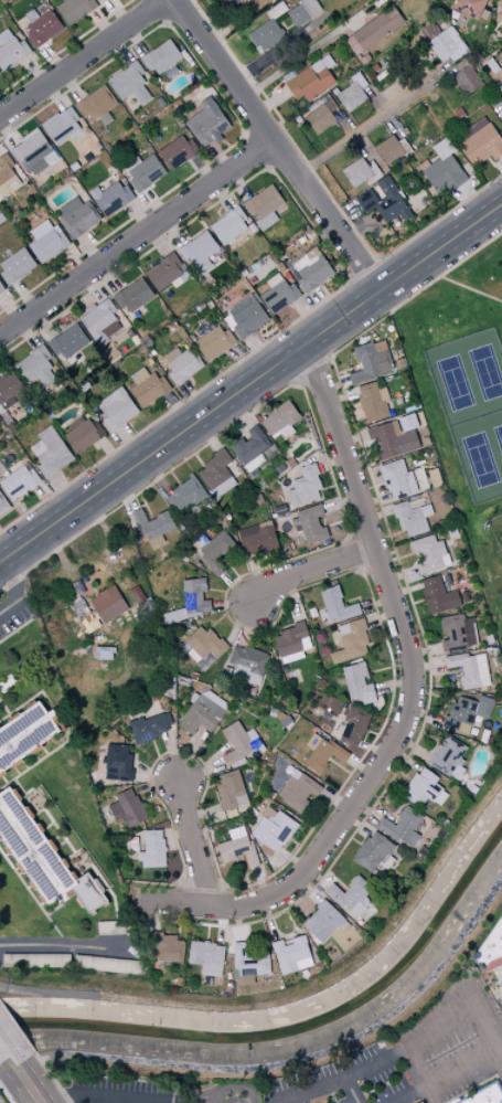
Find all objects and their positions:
building: (64, 0)
building: (103, 0)
building: (238, 2)
building: (311, 7)
building: (472, 8)
building: (76, 9)
road: (159, 10)
building: (277, 10)
road: (118, 12)
building: (500, 12)
building: (32, 15)
building: (298, 15)
road: (237, 22)
road: (167, 23)
road: (102, 24)
building: (378, 28)
building: (44, 29)
building: (431, 31)
building: (267, 34)
building: (6, 36)
road: (136, 39)
building: (382, 43)
building: (457, 44)
building: (444, 45)
road: (66, 46)
road: (313, 47)
building: (260, 50)
road: (119, 51)
building: (13, 53)
building: (162, 57)
building: (500, 57)
road: (53, 59)
road: (82, 59)
building: (464, 63)
road: (258, 64)
road: (36, 71)
building: (289, 75)
building: (468, 79)
building: (360, 81)
building: (311, 82)
building: (131, 83)
road: (72, 85)
building: (335, 92)
road: (54, 96)
building: (352, 97)
road: (376, 100)
road: (271, 102)
building: (97, 104)
building: (178, 105)
building: (322, 115)
road: (236, 118)
building: (298, 119)
road: (350, 119)
building: (102, 121)
building: (209, 123)
road: (263, 124)
building: (62, 126)
road: (363, 127)
road: (8, 134)
building: (467, 134)
road: (245, 135)
building: (77, 137)
road: (276, 145)
building: (482, 146)
building: (406, 147)
building: (444, 148)
road: (258, 150)
building: (389, 150)
building: (179, 151)
building: (34, 152)
road: (281, 156)
road: (218, 158)
building: (133, 163)
building: (424, 166)
building: (6, 168)
road: (268, 168)
building: (375, 169)
road: (203, 170)
building: (399, 170)
building: (357, 172)
building: (147, 173)
building: (407, 173)
building: (445, 174)
road: (238, 184)
building: (9, 187)
building: (362, 187)
building: (386, 192)
road: (223, 194)
building: (113, 198)
building: (362, 201)
building: (264, 202)
road: (470, 202)
road: (154, 203)
building: (71, 206)
building: (396, 211)
road: (342, 212)
road: (139, 215)
building: (2, 219)
building: (81, 220)
building: (267, 221)
building: (229, 225)
building: (252, 225)
road: (360, 226)
building: (41, 229)
road: (173, 231)
road: (355, 231)
road: (136, 236)
road: (158, 241)
building: (50, 245)
building: (200, 248)
road: (89, 250)
building: (270, 255)
building: (313, 255)
road: (377, 259)
road: (74, 262)
building: (156, 263)
building: (300, 263)
building: (17, 265)
road: (339, 265)
building: (204, 266)
building: (165, 272)
road: (364, 272)
building: (314, 273)
road: (108, 277)
building: (181, 279)
building: (274, 279)
road: (329, 279)
road: (349, 282)
road: (391, 282)
road: (93, 287)
building: (1, 288)
road: (470, 289)
building: (135, 295)
road: (24, 296)
building: (280, 296)
road: (365, 300)
road: (325, 305)
road: (9, 307)
building: (247, 316)
road: (308, 316)
building: (100, 321)
road: (43, 322)
building: (130, 331)
road: (322, 332)
road: (26, 333)
building: (70, 341)
building: (215, 342)
building: (381, 346)
building: (152, 352)
road: (258, 352)
building: (173, 354)
road: (291, 354)
building: (158, 357)
road: (332, 357)
building: (151, 361)
road: (243, 362)
building: (371, 363)
building: (402, 363)
building: (397, 364)
building: (184, 365)
building: (36, 367)
road: (316, 368)
road: (250, 382)
road: (192, 383)
road: (299, 383)
building: (9, 385)
building: (87, 385)
building: (148, 386)
road: (337, 386)
building: (384, 395)
road: (342, 397)
road: (193, 399)
park: (464, 401)
building: (10, 402)
road: (253, 403)
road: (271, 403)
building: (373, 403)
park: (472, 406)
building: (117, 409)
road: (355, 409)
road: (177, 410)
road: (241, 412)
building: (281, 417)
building: (76, 423)
building: (397, 428)
building: (285, 432)
road: (210, 433)
building: (85, 435)
road: (295, 437)
road: (353, 438)
building: (393, 441)
building: (427, 441)
building: (12, 443)
road: (129, 445)
building: (252, 445)
road: (370, 452)
building: (52, 453)
road: (113, 455)
road: (354, 456)
road: (200, 460)
building: (255, 463)
building: (291, 463)
road: (332, 463)
building: (281, 468)
building: (216, 469)
building: (233, 470)
building: (255, 473)
road: (156, 477)
road: (174, 477)
building: (265, 478)
building: (396, 478)
building: (439, 480)
building: (20, 481)
building: (410, 482)
road: (380, 485)
building: (307, 486)
building: (224, 487)
road: (65, 490)
road: (125, 494)
building: (186, 495)
building: (259, 499)
road: (320, 499)
road: (50, 500)
road: (376, 500)
building: (419, 502)
road: (342, 503)
building: (3, 505)
road: (146, 506)
building: (281, 510)
road: (388, 513)
building: (295, 516)
road: (378, 516)
building: (413, 518)
building: (452, 520)
building: (284, 522)
building: (154, 523)
building: (266, 524)
building: (312, 524)
park: (496, 527)
building: (453, 530)
road: (107, 531)
building: (248, 531)
road: (370, 532)
road: (398, 532)
road: (350, 537)
road: (322, 540)
building: (140, 541)
building: (203, 541)
building: (260, 541)
road: (6, 547)
road: (410, 548)
road: (56, 550)
building: (217, 551)
road: (356, 553)
building: (430, 553)
road: (452, 553)
road: (405, 555)
road: (266, 560)
building: (447, 560)
road: (415, 561)
road: (380, 563)
road: (229, 566)
road: (311, 569)
building: (439, 570)
road: (360, 572)
road: (256, 573)
road: (403, 574)
road: (325, 580)
building: (445, 580)
road: (237, 588)
road: (406, 590)
road: (18, 591)
road: (216, 591)
building: (138, 595)
building: (196, 596)
building: (440, 596)
road: (293, 600)
road: (418, 602)
road: (376, 603)
building: (109, 604)
road: (233, 605)
building: (147, 606)
building: (337, 606)
building: (86, 615)
building: (178, 615)
road: (381, 617)
road: (216, 622)
road: (241, 622)
road: (249, 623)
road: (419, 624)
road: (281, 628)
road: (18, 629)
building: (344, 629)
building: (471, 632)
building: (455, 633)
building: (291, 639)
building: (353, 641)
road: (377, 641)
building: (206, 643)
building: (115, 650)
road: (426, 650)
building: (496, 651)
building: (105, 653)
building: (249, 659)
building: (207, 661)
building: (498, 661)
road: (402, 665)
road: (428, 666)
building: (228, 669)
road: (380, 669)
building: (466, 669)
building: (483, 669)
building: (246, 675)
building: (296, 676)
building: (184, 681)
building: (357, 681)
road: (393, 686)
road: (195, 689)
building: (477, 690)
road: (268, 693)
building: (195, 697)
building: (280, 699)
building: (370, 699)
road: (447, 701)
building: (207, 703)
road: (408, 707)
road: (4, 708)
building: (467, 713)
road: (426, 714)
building: (199, 719)
building: (287, 721)
building: (353, 725)
road: (67, 729)
building: (148, 729)
building: (466, 729)
road: (373, 732)
building: (26, 735)
road: (364, 736)
building: (314, 741)
road: (436, 741)
building: (237, 743)
road: (414, 747)
road: (156, 749)
road: (374, 749)
road: (190, 753)
road: (173, 755)
building: (325, 755)
building: (449, 755)
road: (38, 757)
road: (406, 759)
building: (120, 761)
building: (239, 763)
road: (25, 766)
road: (340, 766)
road: (360, 766)
road: (169, 767)
road: (201, 771)
road: (409, 771)
road: (18, 772)
building: (111, 774)
building: (296, 774)
road: (404, 775)
road: (156, 778)
road: (4, 781)
road: (156, 783)
building: (98, 785)
road: (213, 786)
building: (424, 788)
building: (473, 791)
building: (232, 792)
building: (300, 793)
building: (271, 795)
road: (23, 797)
road: (217, 798)
building: (442, 798)
road: (149, 799)
road: (334, 800)
building: (268, 802)
road: (30, 806)
building: (131, 808)
building: (117, 812)
road: (365, 813)
building: (108, 815)
road: (203, 815)
building: (119, 821)
building: (447, 824)
road: (359, 825)
building: (404, 827)
road: (46, 828)
building: (276, 831)
building: (237, 834)
road: (177, 835)
road: (54, 839)
road: (289, 839)
road: (355, 841)
road: (192, 842)
road: (361, 844)
road: (58, 846)
building: (140, 849)
building: (154, 850)
building: (34, 851)
building: (239, 851)
building: (267, 851)
building: (424, 851)
building: (373, 852)
road: (67, 853)
road: (67, 858)
road: (292, 859)
building: (385, 863)
road: (17, 869)
road: (245, 871)
road: (20, 874)
road: (79, 876)
road: (400, 876)
road: (317, 877)
road: (260, 882)
road: (190, 884)
road: (218, 887)
road: (308, 889)
road: (205, 891)
road: (252, 894)
building: (352, 894)
road: (33, 897)
road: (157, 916)
road: (269, 920)
road: (290, 920)
building: (324, 921)
road: (237, 924)
road: (223, 926)
building: (111, 927)
building: (364, 927)
road: (179, 929)
road: (207, 933)
building: (369, 933)
road: (249, 940)
road: (66, 946)
building: (168, 947)
building: (491, 951)
building: (206, 953)
building: (291, 954)
building: (38, 959)
road: (169, 962)
building: (250, 962)
building: (108, 965)
building: (212, 969)
building: (247, 979)
building: (231, 985)
building: (278, 986)
building: (231, 991)
building: (224, 995)
road: (17, 1027)
road: (3, 1049)
road: (405, 1051)
road: (287, 1062)
road: (6, 1064)
road: (418, 1077)
road: (446, 1077)
road: (52, 1078)
road: (24, 1079)
road: (478, 1085)
road: (235, 1088)
road: (351, 1091)
road: (118, 1092)
road: (6, 1093)
building: (485, 1094)
road: (105, 1096)
road: (215, 1102)
road: (354, 1102)
building: (423, 1102)

